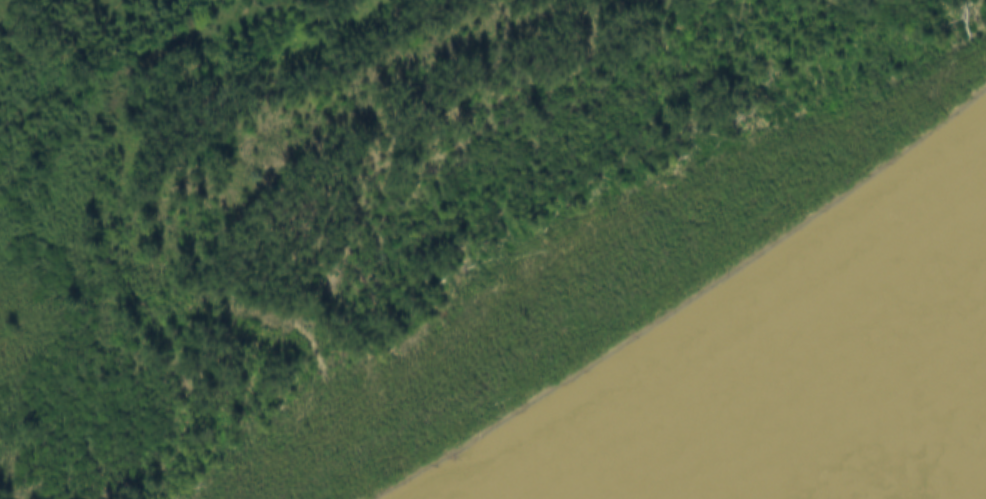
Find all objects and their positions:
river: (929, 458)

